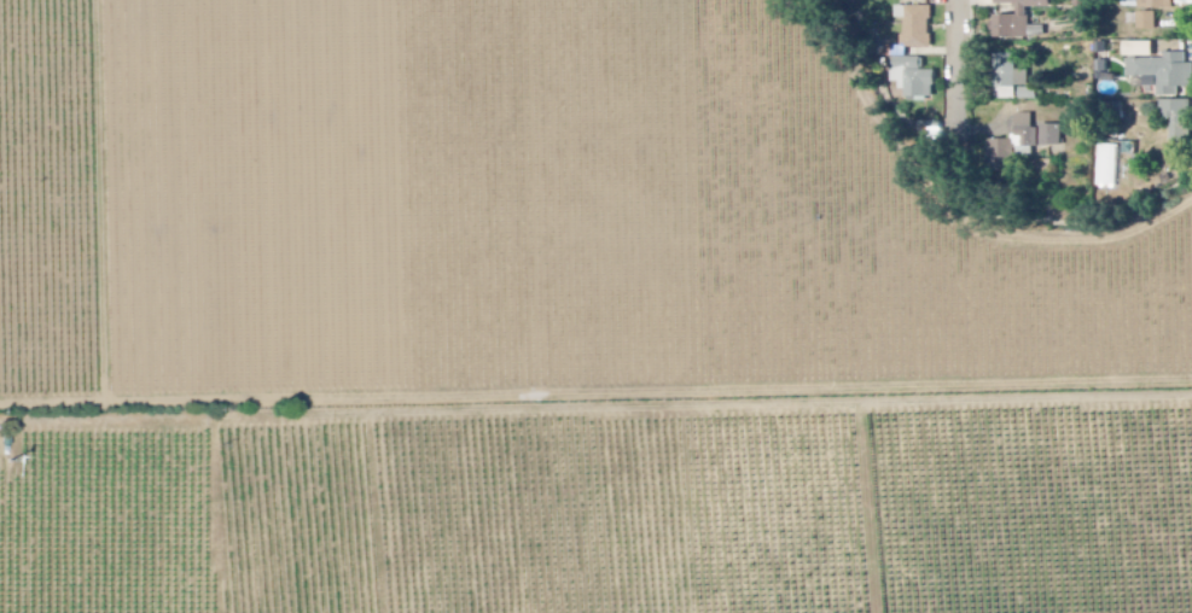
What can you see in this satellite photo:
building: (1157, 5)
building: (1085, 16)
building: (1150, 23)
building: (918, 28)
building: (1142, 51)
road: (958, 57)
building: (1165, 75)
building: (1013, 78)
building: (921, 82)
building: (1083, 113)
building: (1180, 123)
building: (1053, 138)
building: (1022, 142)
building: (1111, 167)
road: (595, 410)

